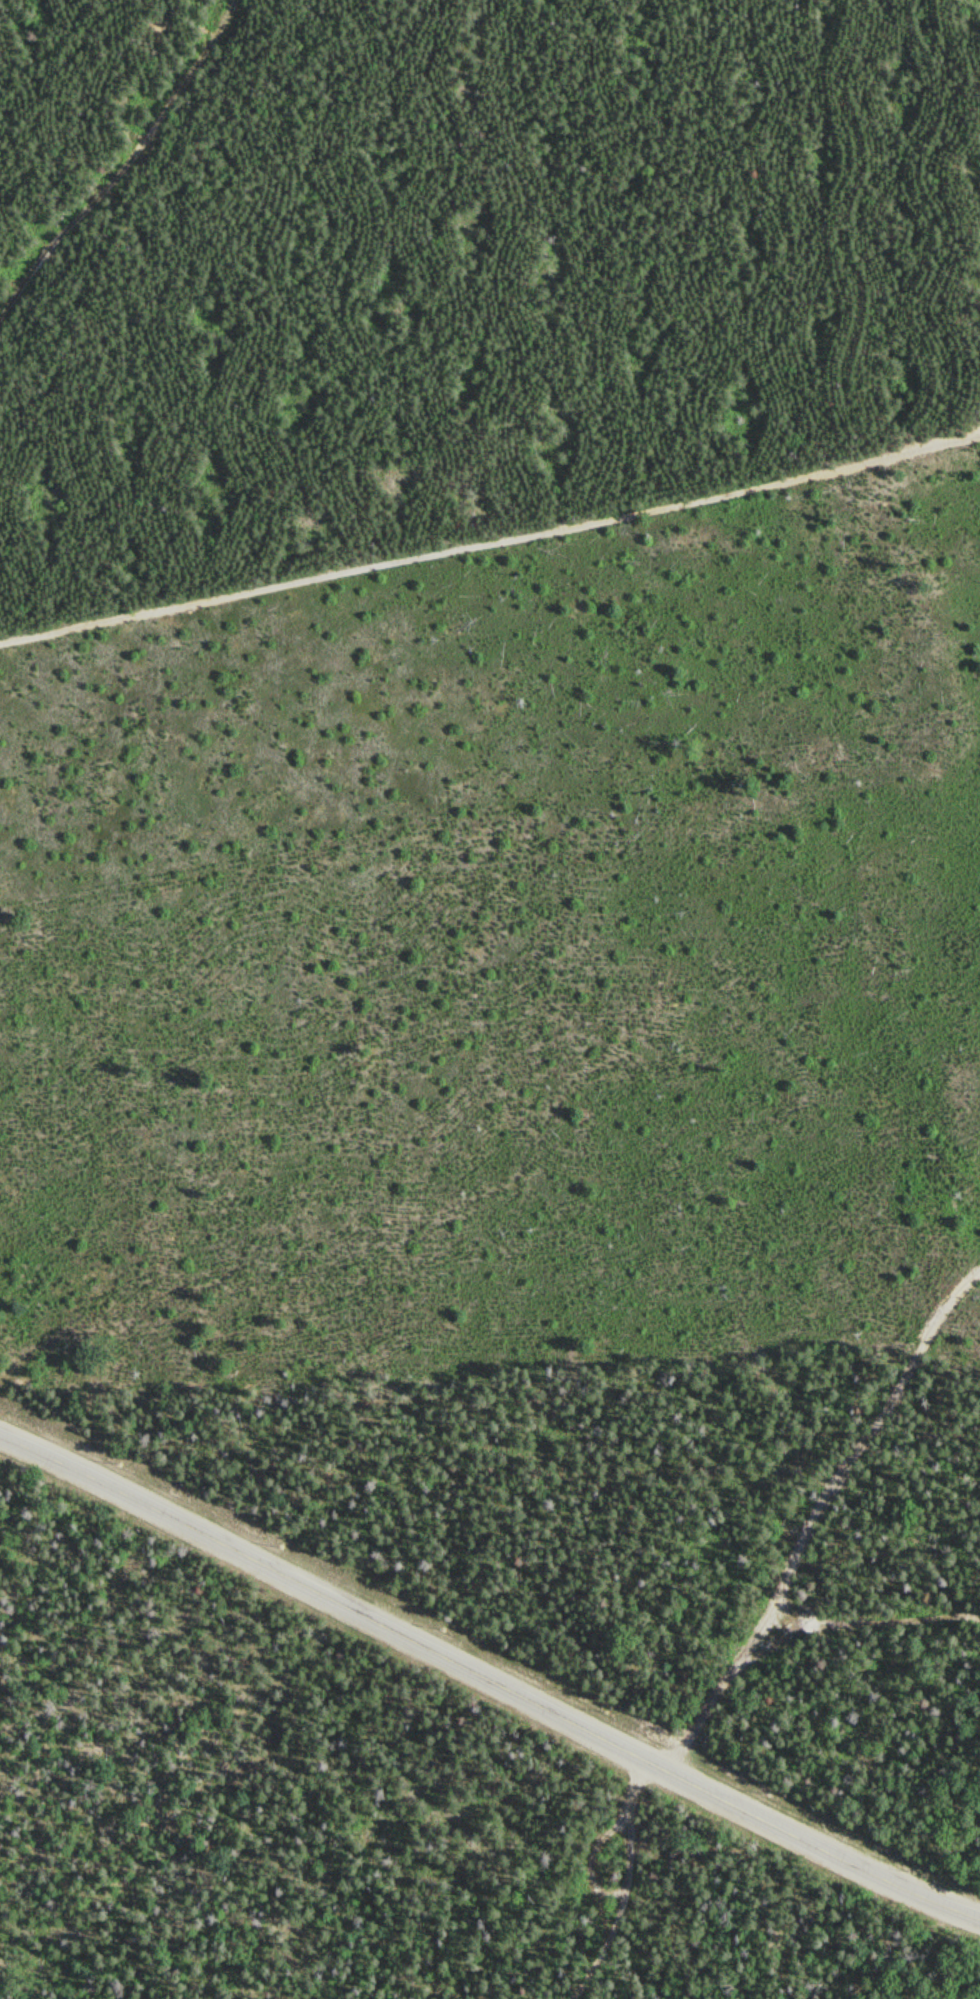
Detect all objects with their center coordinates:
road: (121, 160)
road: (490, 546)
road: (289, 1315)
road: (807, 1505)
road: (489, 1677)
road: (592, 1859)
road: (629, 1883)

